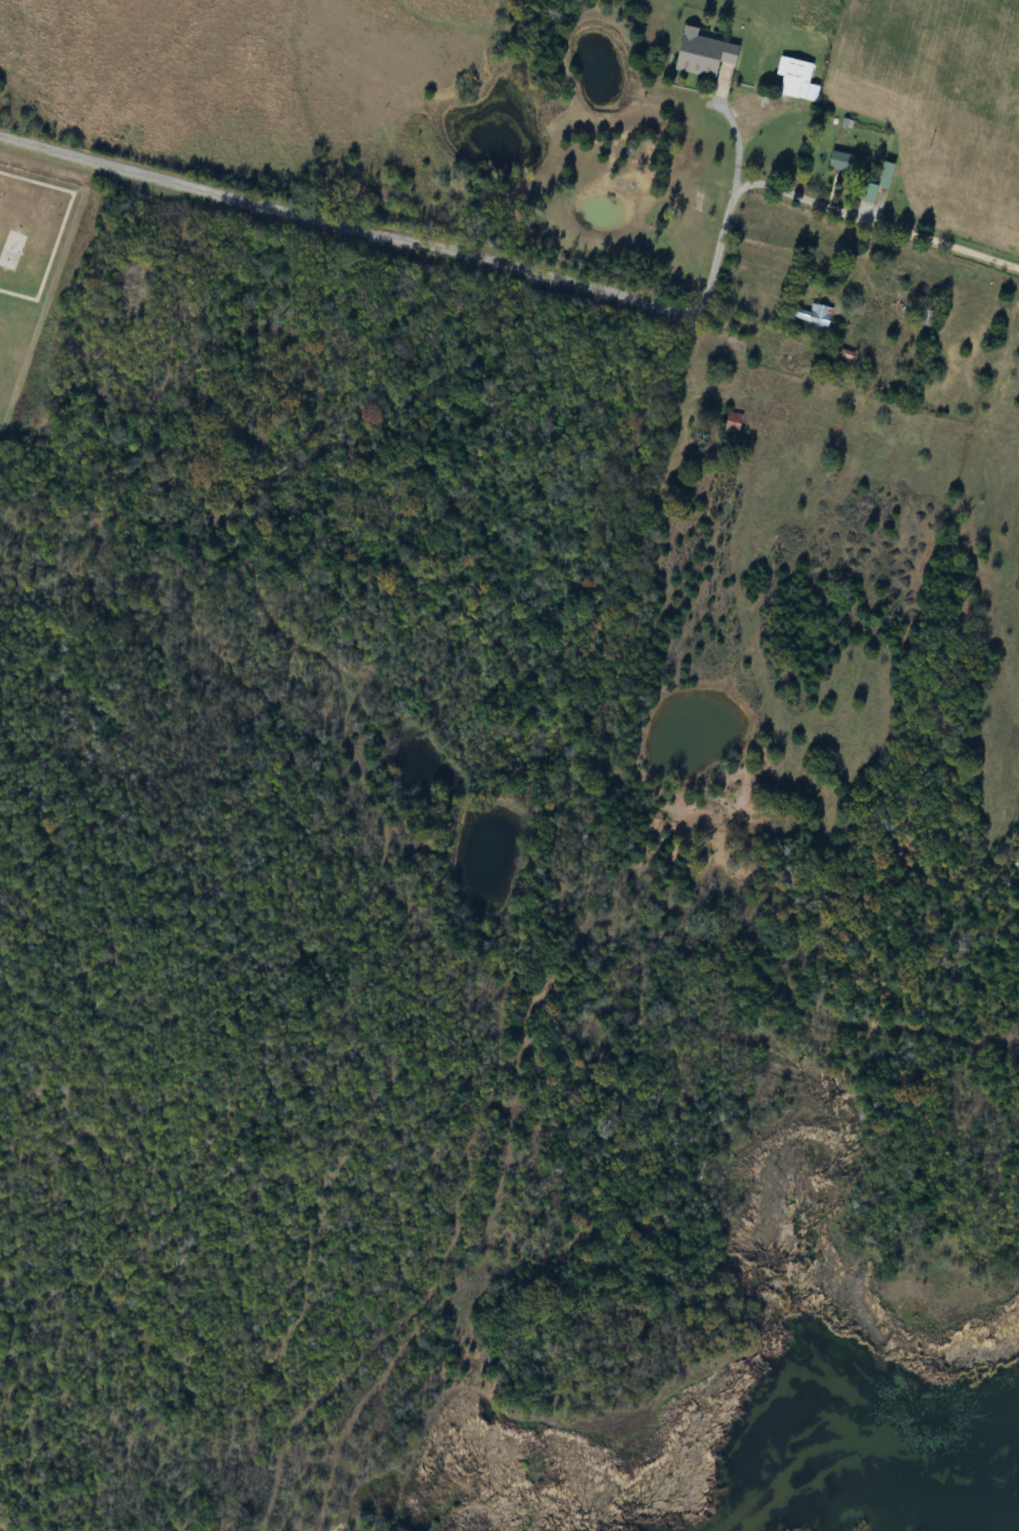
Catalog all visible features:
building: (708, 53)
building: (795, 75)
road: (741, 138)
building: (845, 162)
building: (889, 174)
building: (871, 192)
road: (808, 201)
road: (336, 228)
building: (12, 249)
building: (816, 315)
building: (736, 421)

